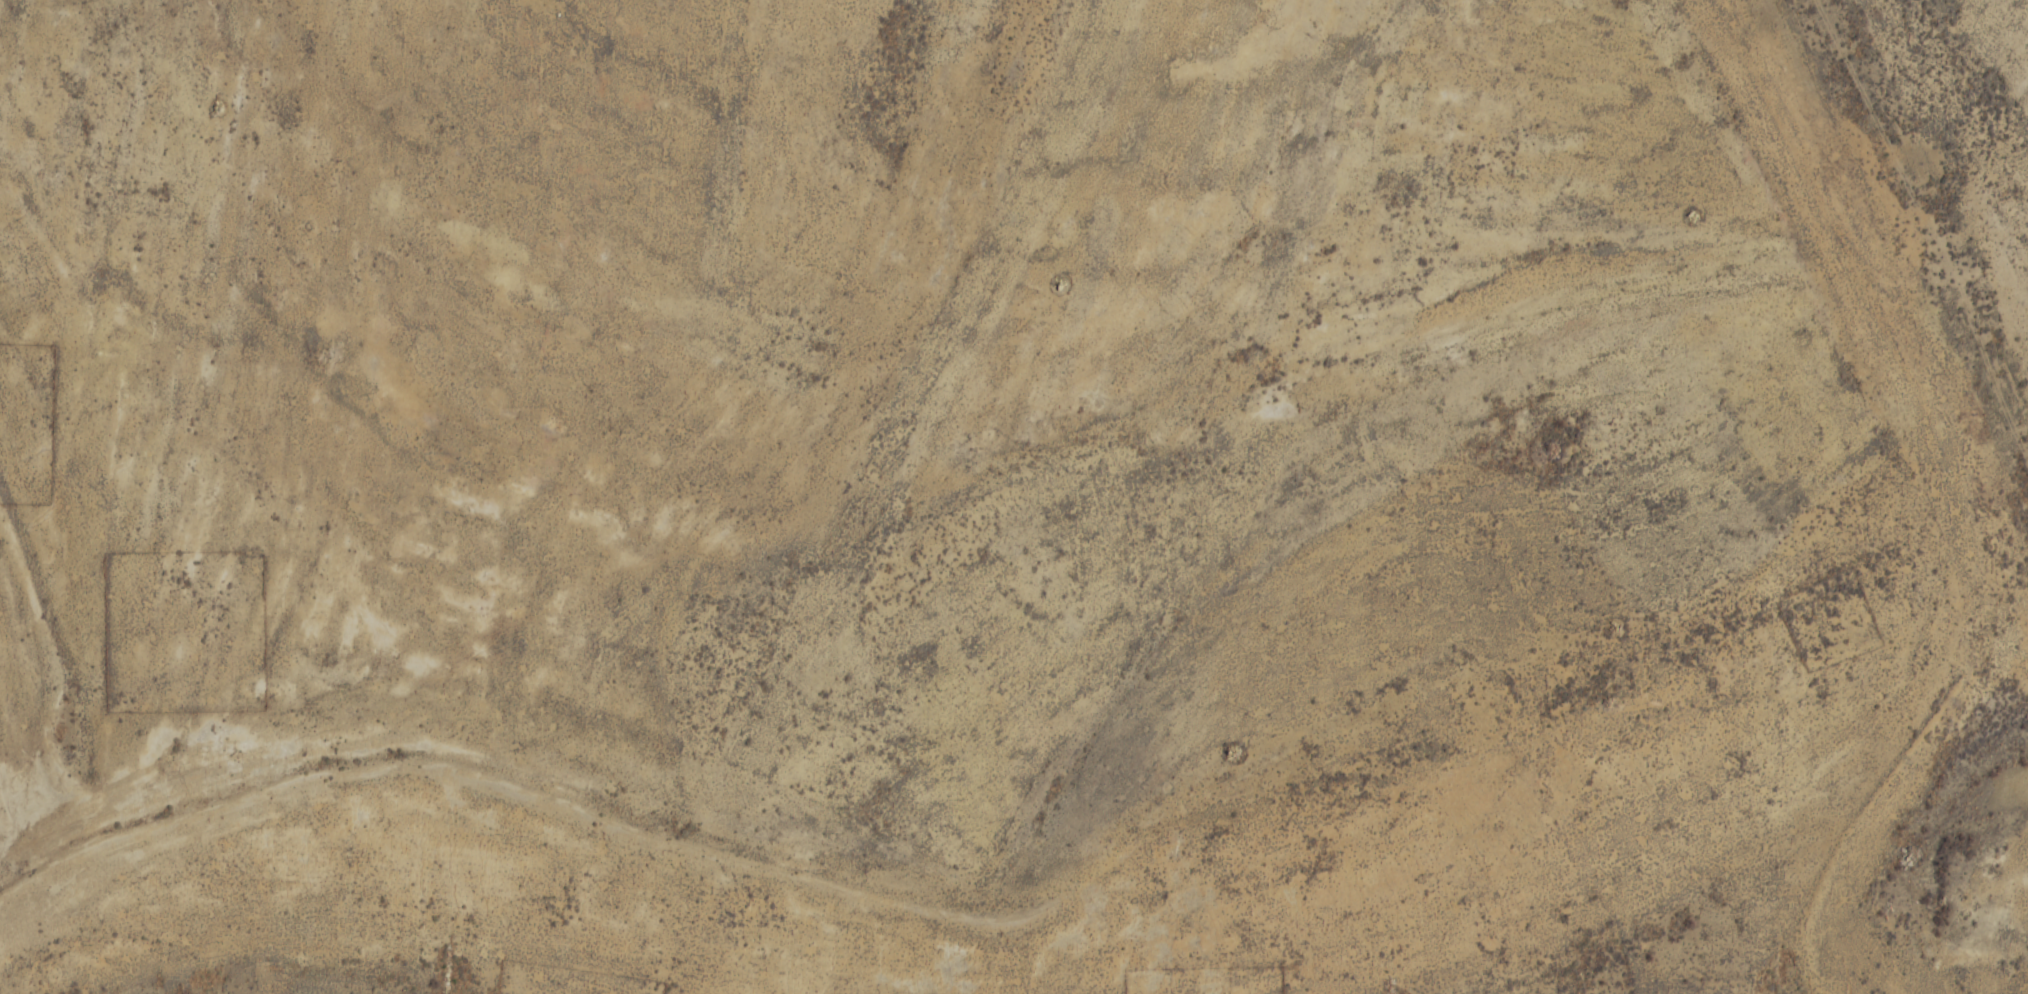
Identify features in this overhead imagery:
road: (1924, 215)

